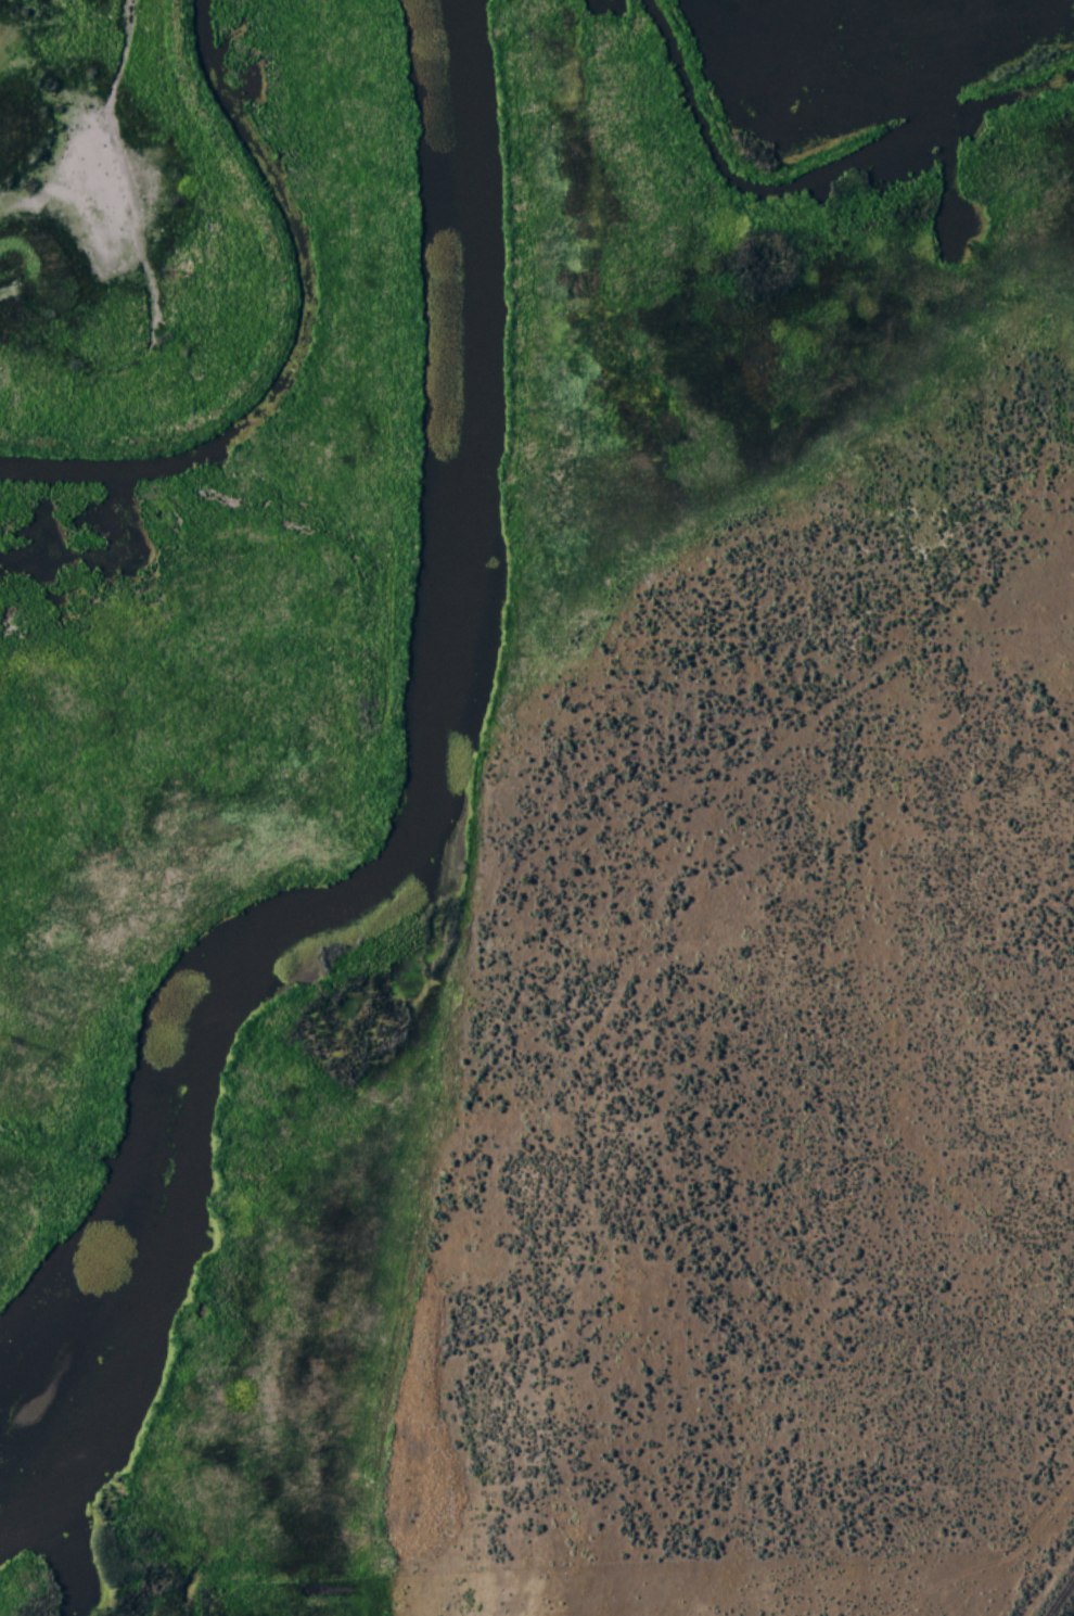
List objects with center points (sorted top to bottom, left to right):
river: (436, 826)
railway: (1061, 1596)

